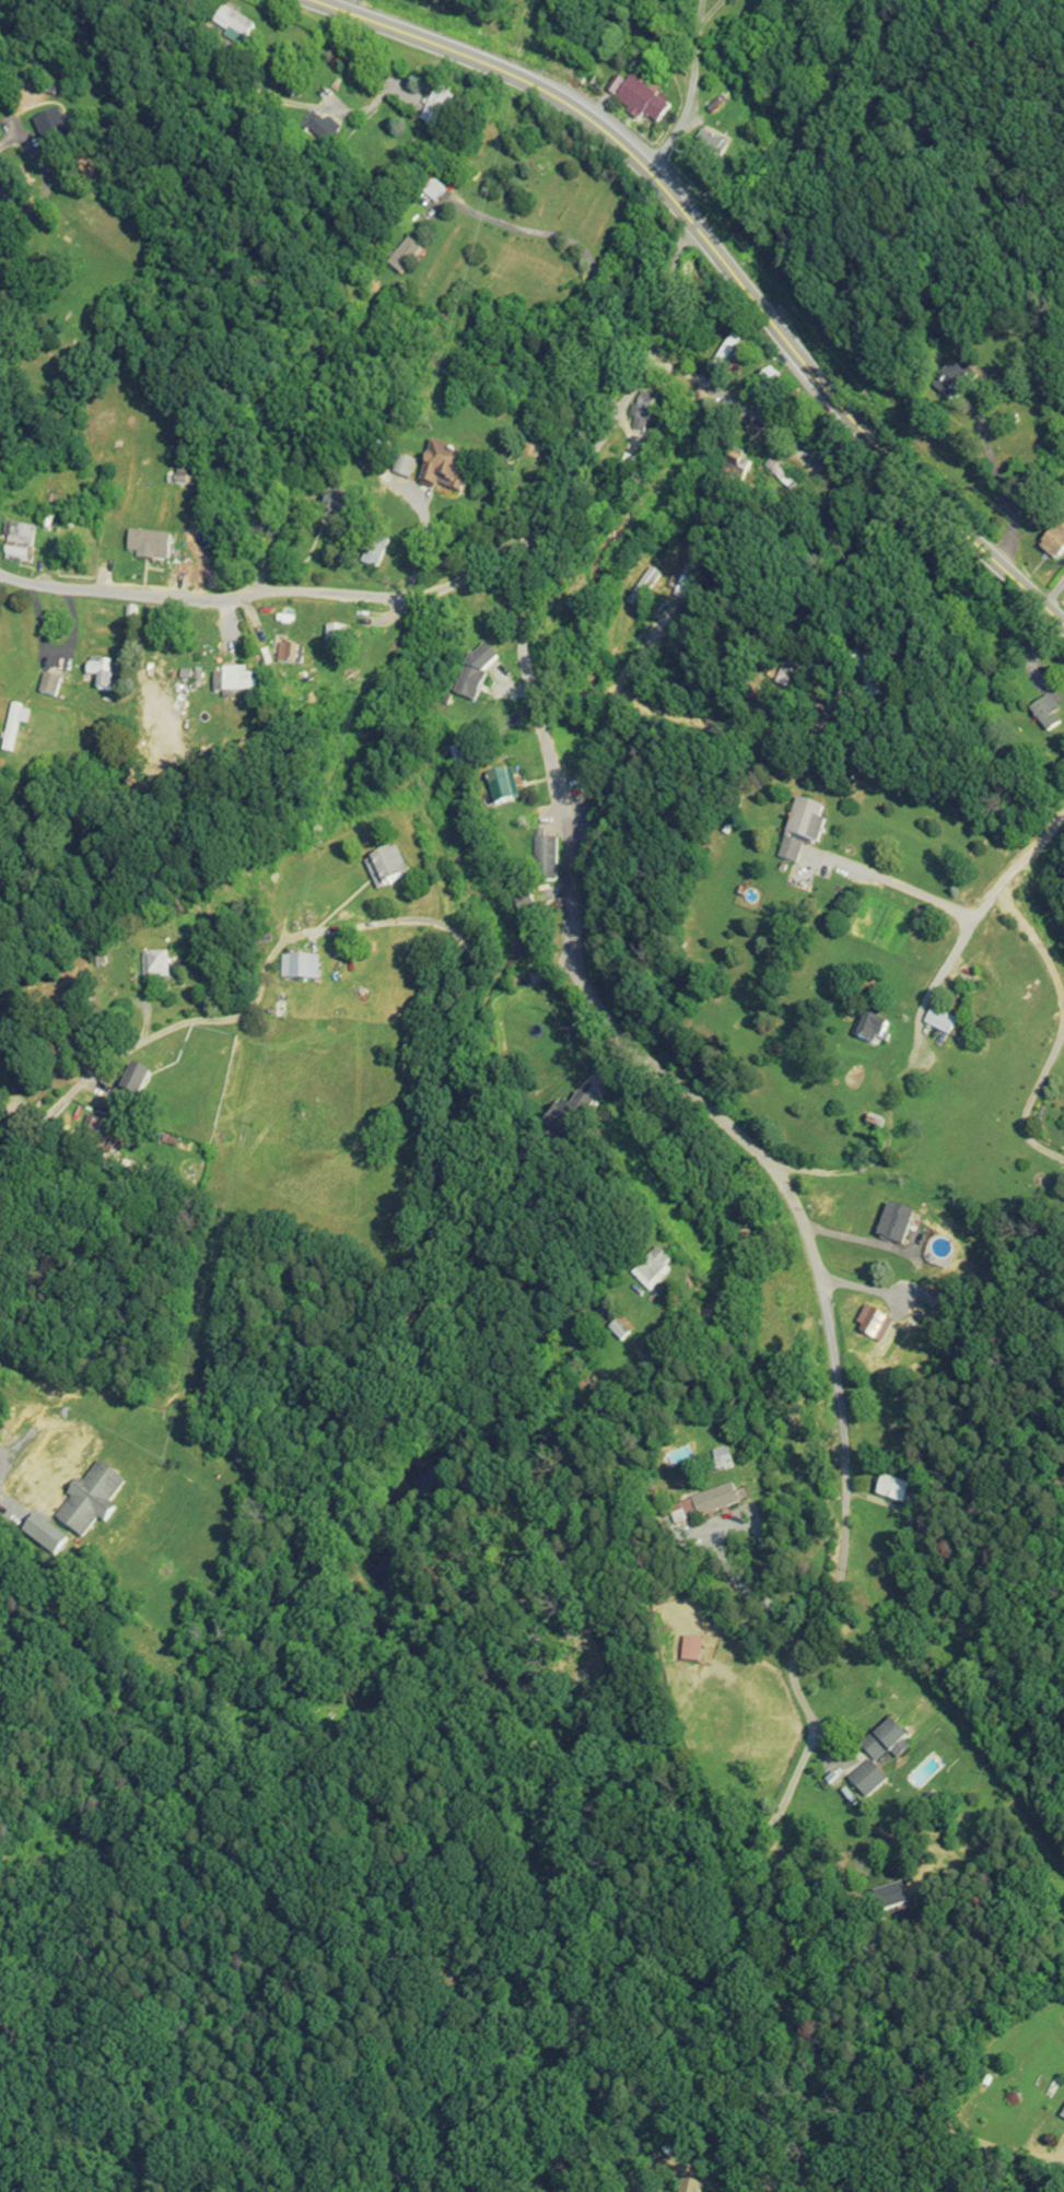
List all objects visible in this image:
road: (10, 2)
building: (229, 27)
road: (693, 89)
building: (638, 103)
building: (51, 136)
building: (709, 149)
road: (395, 155)
road: (44, 180)
building: (432, 191)
road: (728, 251)
road: (574, 256)
building: (402, 258)
building: (724, 354)
building: (950, 382)
building: (770, 383)
road: (743, 406)
building: (642, 413)
building: (402, 470)
building: (444, 471)
building: (621, 473)
road: (284, 496)
building: (331, 512)
building: (1053, 543)
building: (19, 547)
building: (147, 548)
building: (372, 553)
road: (1042, 562)
building: (686, 579)
road: (454, 581)
building: (335, 638)
road: (628, 647)
road: (52, 649)
building: (289, 656)
building: (98, 673)
building: (473, 673)
building: (233, 680)
building: (147, 701)
building: (1045, 715)
road: (691, 719)
building: (13, 725)
building: (461, 759)
building: (499, 787)
building: (800, 829)
building: (545, 858)
building: (385, 868)
road: (904, 882)
road: (970, 928)
road: (454, 935)
building: (154, 964)
building: (297, 968)
building: (938, 1021)
road: (1062, 1025)
building: (869, 1029)
road: (95, 1067)
building: (132, 1082)
building: (573, 1112)
road: (817, 1257)
building: (651, 1269)
building: (873, 1325)
building: (617, 1332)
road: (28, 1452)
road: (886, 1466)
building: (891, 1490)
building: (87, 1501)
building: (709, 1503)
building: (531, 1560)
road: (763, 1570)
building: (690, 1650)
building: (875, 1759)
building: (889, 1899)
road: (924, 2120)
building: (688, 2188)

